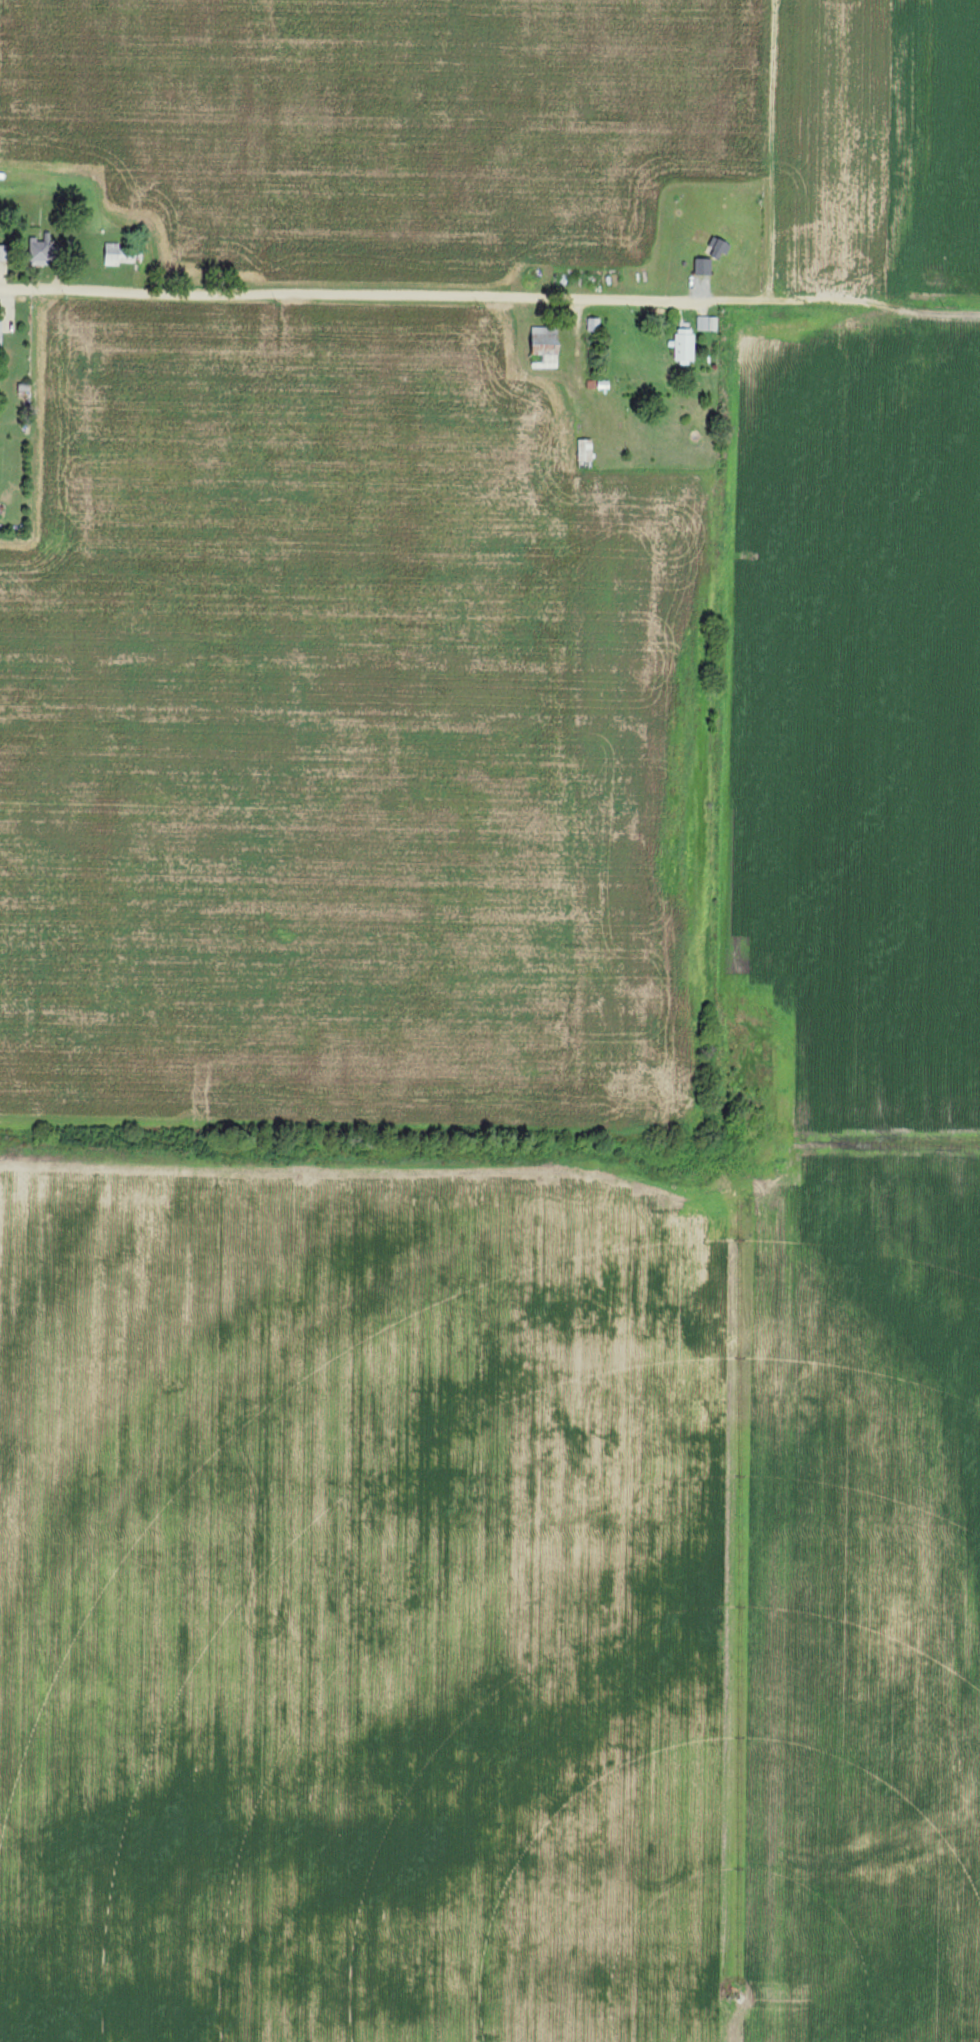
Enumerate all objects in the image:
road: (355, 297)
building: (685, 344)

